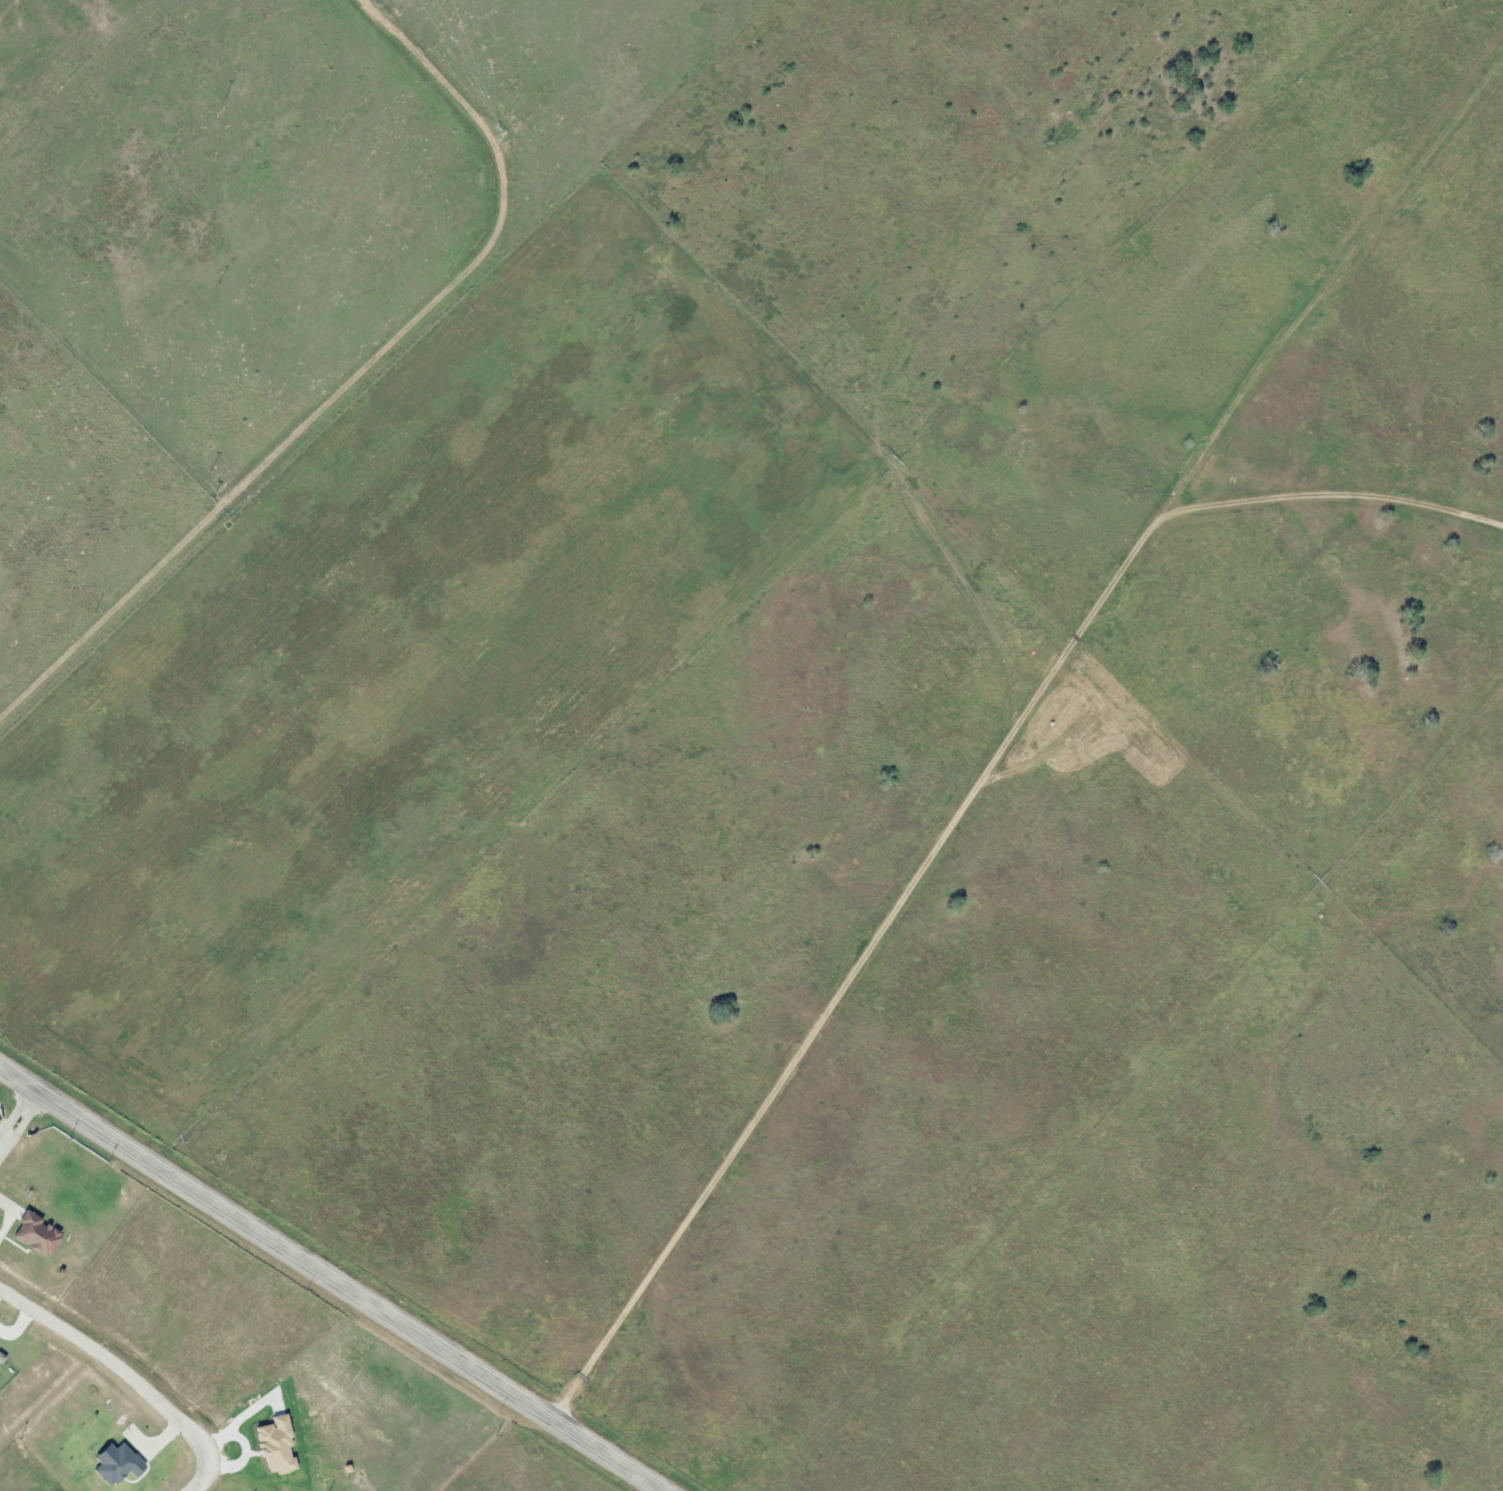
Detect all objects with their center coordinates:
road: (18, 1118)
road: (330, 1277)
road: (127, 1371)

